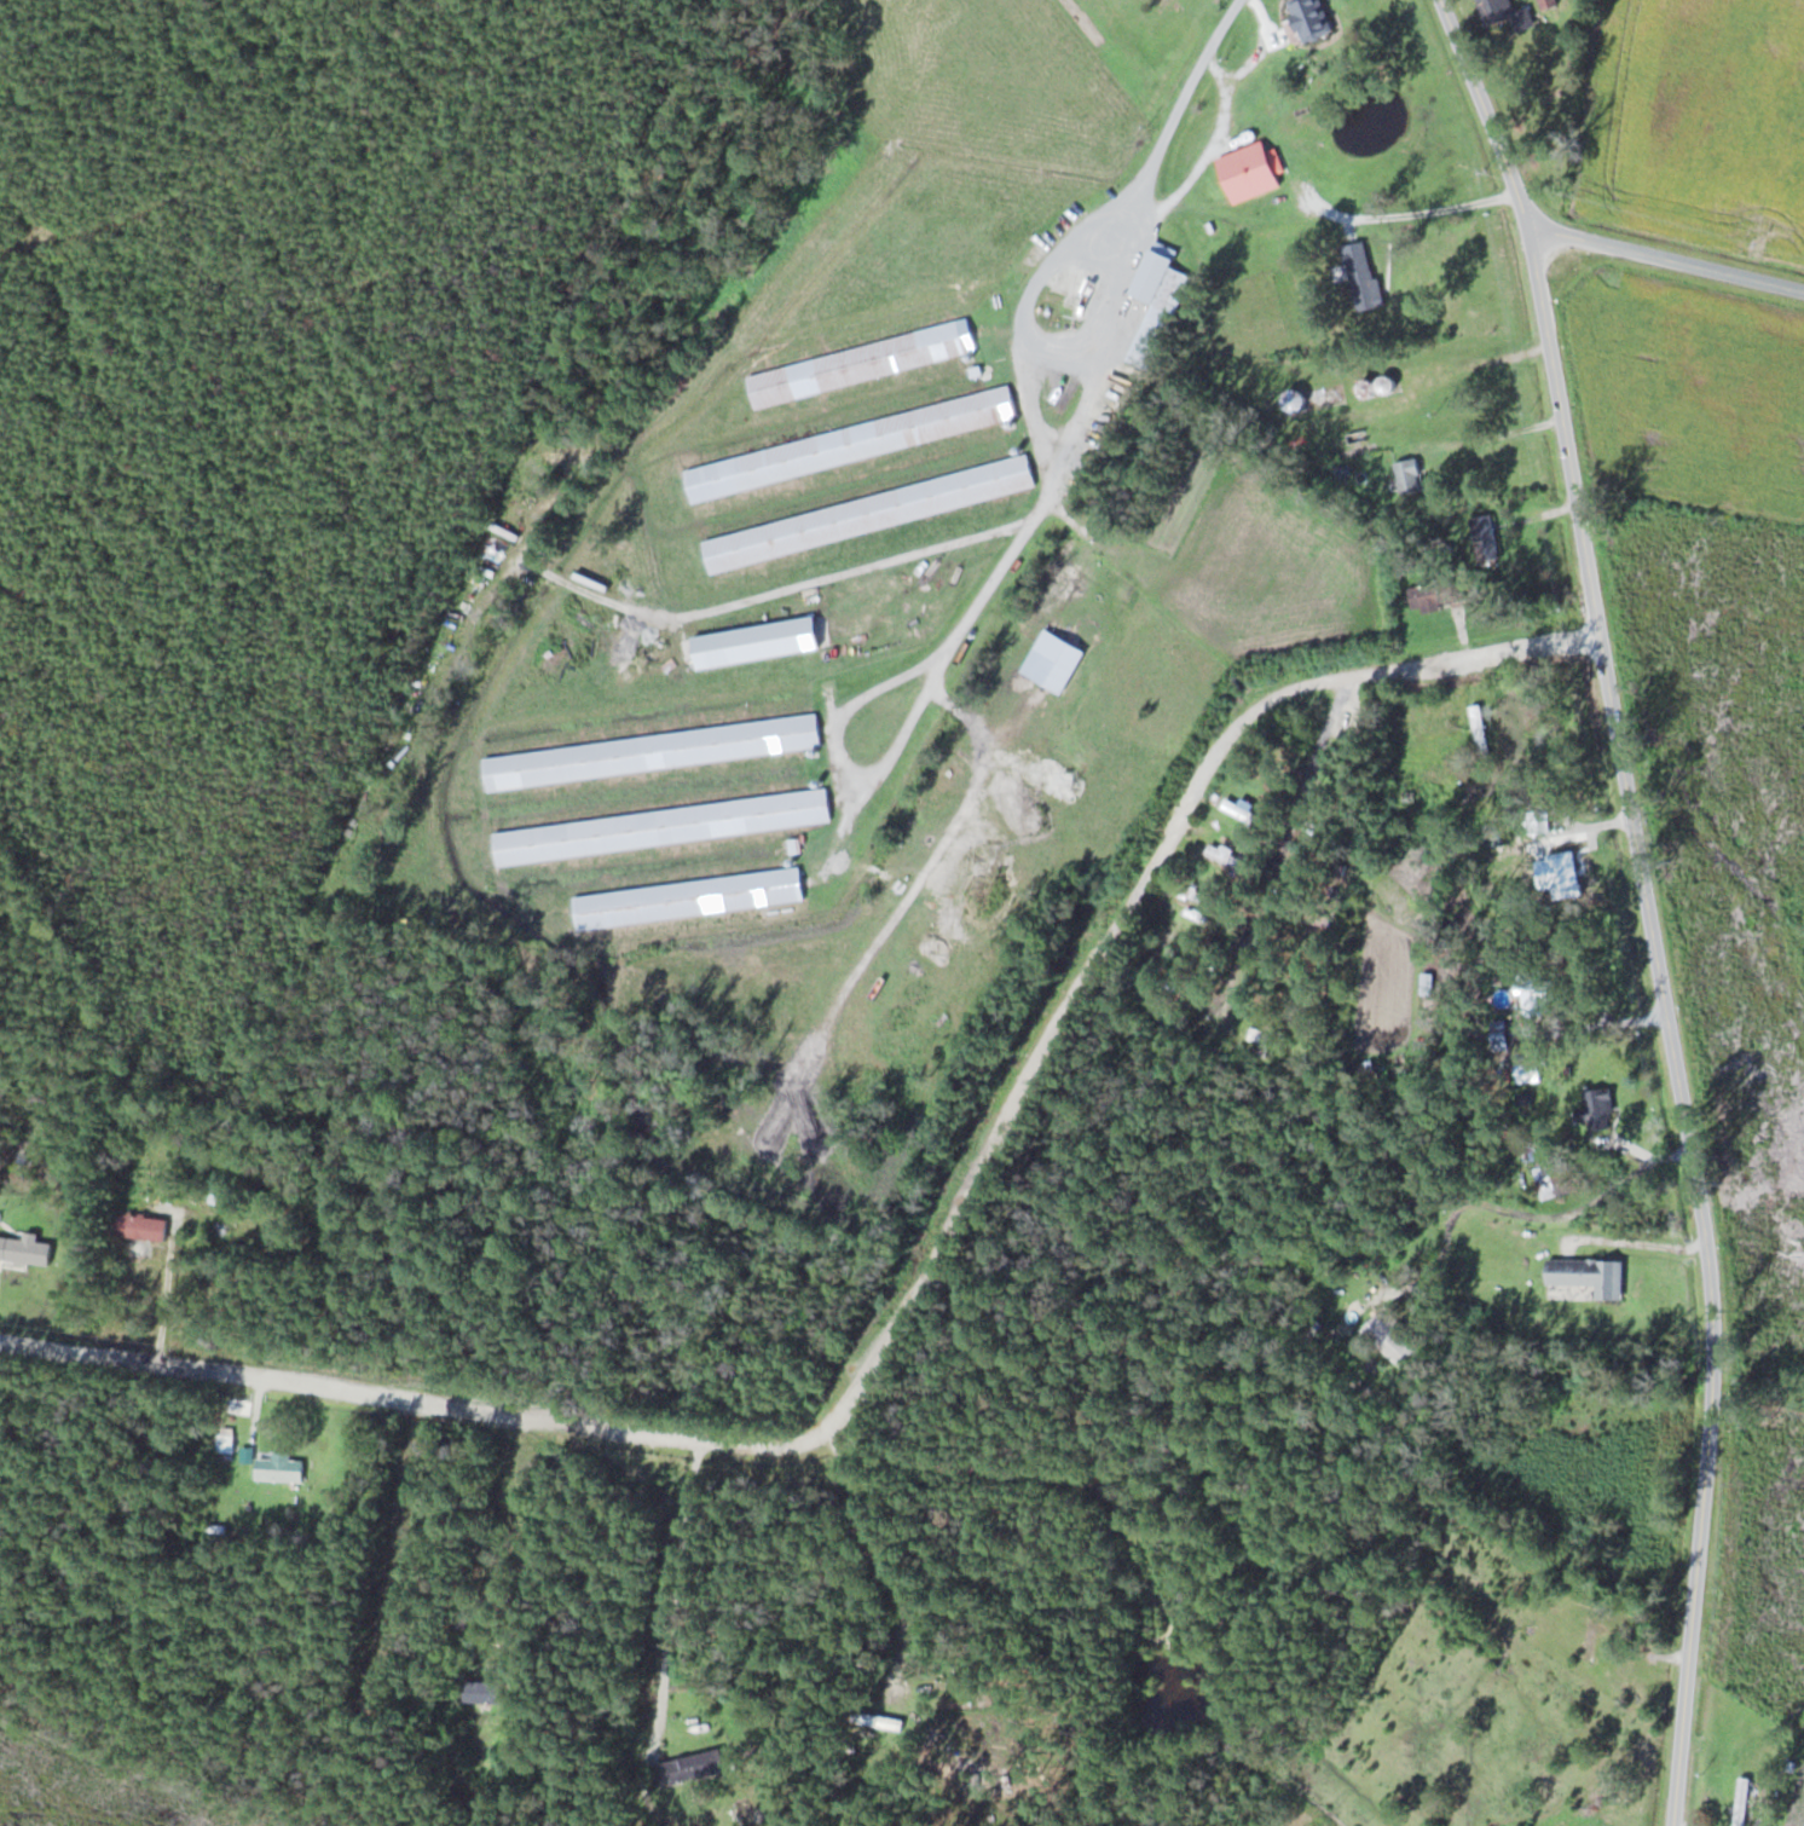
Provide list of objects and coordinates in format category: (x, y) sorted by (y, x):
building: (1548, 4)
building: (1503, 13)
building: (1308, 18)
building: (1250, 171)
road: (1669, 261)
building: (1361, 276)
building: (1158, 318)
building: (860, 363)
road: (1074, 426)
building: (850, 444)
building: (1407, 475)
building: (868, 513)
building: (1481, 534)
building: (1434, 595)
building: (754, 642)
building: (1052, 660)
building: (1139, 678)
building: (651, 751)
building: (1241, 809)
building: (660, 826)
building: (1566, 853)
building: (1228, 857)
building: (1195, 892)
building: (688, 897)
road: (1652, 901)
building: (1318, 913)
building: (1426, 983)
building: (1536, 992)
building: (1498, 1033)
building: (1260, 1040)
building: (1554, 1178)
building: (141, 1225)
building: (24, 1248)
building: (1589, 1275)
road: (919, 1278)
building: (1388, 1337)
building: (224, 1441)
building: (278, 1468)
building: (457, 1616)
building: (1589, 1637)
building: (480, 1691)
building: (694, 1766)
building: (1741, 1799)

